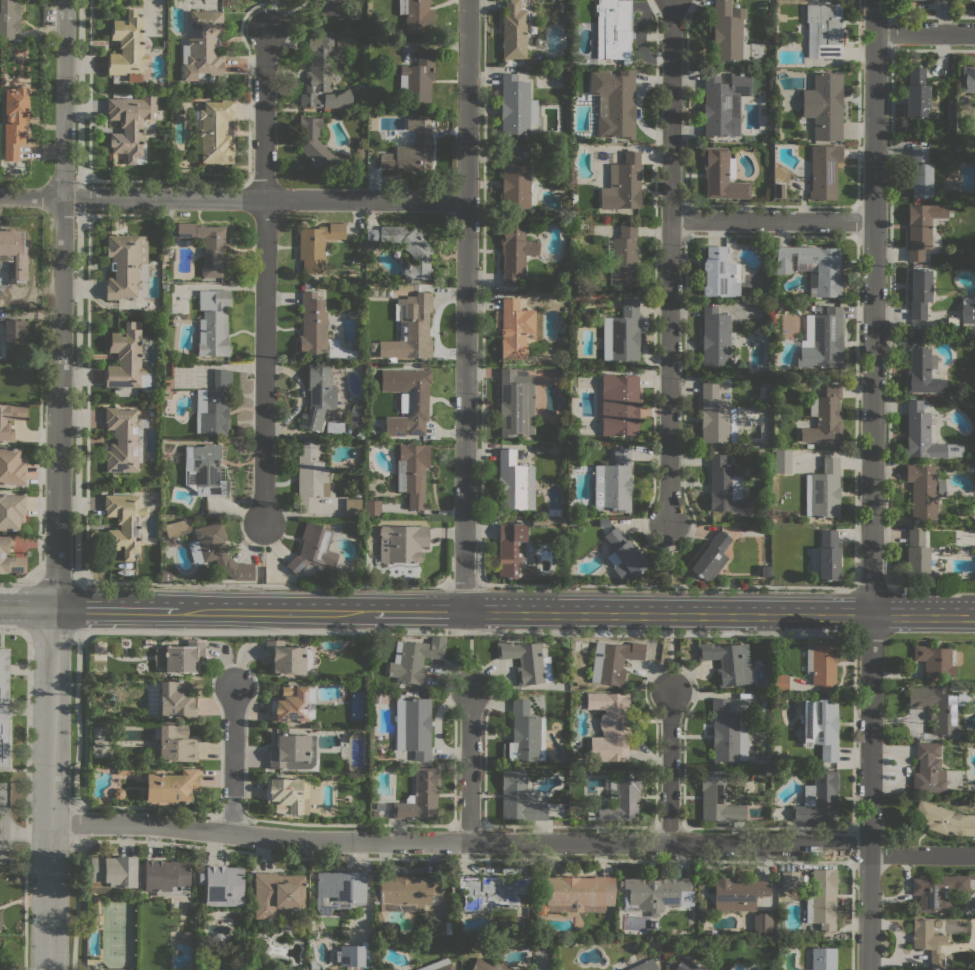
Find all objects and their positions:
building: (943, 0)
building: (331, 7)
building: (416, 16)
building: (9, 18)
building: (513, 30)
building: (613, 30)
building: (823, 30)
road: (925, 32)
building: (733, 35)
building: (202, 46)
building: (128, 47)
building: (21, 50)
building: (321, 76)
building: (417, 78)
building: (968, 79)
road: (79, 89)
road: (88, 91)
building: (916, 94)
building: (614, 102)
building: (724, 103)
building: (824, 105)
building: (516, 106)
road: (670, 109)
road: (263, 113)
building: (14, 121)
building: (130, 124)
building: (216, 131)
building: (360, 142)
building: (321, 146)
building: (411, 148)
building: (524, 153)
building: (823, 171)
building: (919, 172)
building: (722, 175)
building: (515, 180)
building: (622, 183)
building: (951, 190)
road: (233, 196)
road: (79, 197)
road: (771, 219)
building: (583, 225)
building: (922, 227)
building: (12, 241)
building: (206, 245)
building: (317, 245)
building: (410, 249)
building: (514, 250)
building: (624, 257)
building: (127, 266)
building: (827, 267)
building: (721, 273)
building: (309, 285)
building: (414, 287)
building: (918, 292)
building: (967, 299)
road: (466, 307)
road: (872, 307)
building: (968, 313)
building: (213, 322)
building: (313, 325)
building: (410, 328)
building: (515, 329)
building: (15, 331)
building: (622, 333)
building: (715, 337)
building: (821, 339)
building: (125, 358)
road: (263, 359)
building: (424, 365)
building: (921, 367)
road: (668, 370)
building: (559, 373)
building: (318, 397)
road: (77, 398)
road: (87, 399)
building: (410, 402)
building: (516, 403)
building: (213, 404)
building: (619, 404)
building: (716, 416)
building: (824, 416)
building: (10, 418)
building: (924, 434)
building: (122, 440)
building: (783, 461)
building: (12, 467)
building: (204, 469)
building: (412, 472)
building: (310, 478)
building: (514, 482)
building: (613, 483)
road: (57, 484)
building: (725, 486)
building: (823, 489)
building: (923, 490)
building: (354, 502)
building: (372, 507)
building: (12, 511)
building: (546, 521)
building: (124, 523)
building: (177, 527)
building: (401, 542)
building: (313, 548)
building: (217, 552)
building: (513, 552)
road: (262, 553)
road: (667, 553)
building: (623, 555)
building: (916, 555)
building: (711, 556)
building: (9, 557)
building: (825, 557)
building: (765, 571)
building: (165, 575)
road: (19, 579)
road: (56, 581)
road: (261, 583)
road: (463, 584)
road: (665, 584)
road: (870, 587)
road: (932, 587)
road: (186, 610)
road: (418, 613)
road: (719, 614)
road: (13, 631)
road: (51, 632)
road: (465, 632)
road: (869, 634)
road: (930, 635)
building: (179, 657)
building: (284, 658)
road: (469, 658)
building: (414, 659)
road: (669, 660)
building: (933, 660)
building: (526, 661)
building: (613, 661)
building: (727, 662)
building: (824, 666)
building: (780, 682)
building: (175, 699)
building: (290, 704)
building: (4, 706)
building: (939, 708)
road: (77, 722)
building: (610, 726)
building: (821, 726)
building: (413, 727)
building: (728, 732)
building: (524, 735)
building: (173, 744)
building: (293, 751)
road: (233, 760)
road: (471, 764)
road: (669, 766)
building: (928, 769)
building: (172, 786)
road: (869, 792)
building: (287, 795)
building: (420, 796)
building: (519, 797)
building: (619, 797)
building: (717, 798)
building: (818, 799)
road: (25, 800)
building: (379, 806)
building: (374, 813)
building: (943, 819)
road: (75, 824)
road: (0, 830)
road: (24, 835)
road: (459, 843)
road: (922, 855)
building: (112, 873)
building: (166, 877)
building: (789, 879)
building: (222, 885)
building: (338, 890)
building: (491, 891)
building: (938, 891)
building: (407, 892)
building: (655, 892)
building: (737, 892)
building: (277, 893)
building: (577, 893)
building: (822, 899)
road: (75, 903)
building: (762, 922)
building: (447, 927)
building: (928, 940)
building: (350, 955)
building: (823, 958)
building: (645, 964)
building: (438, 965)
building: (686, 965)
building: (490, 966)
building: (0, 969)

